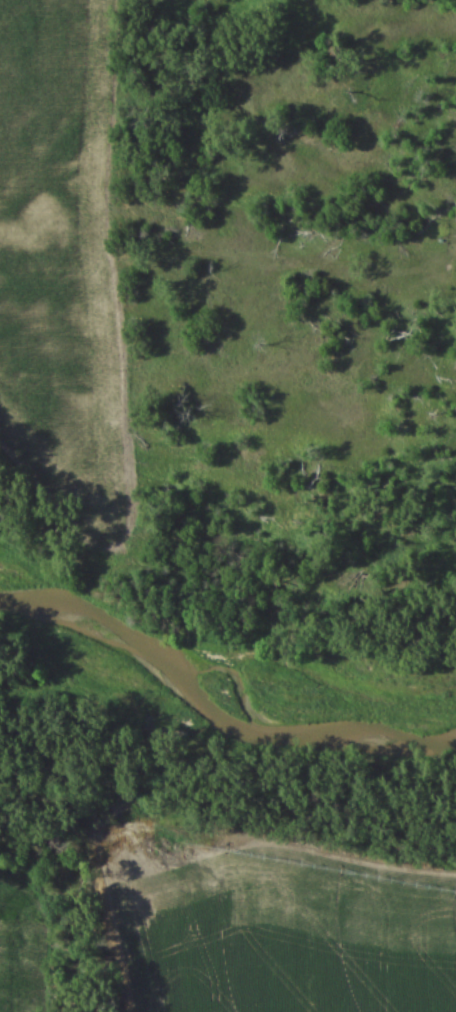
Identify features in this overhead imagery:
river: (214, 712)

